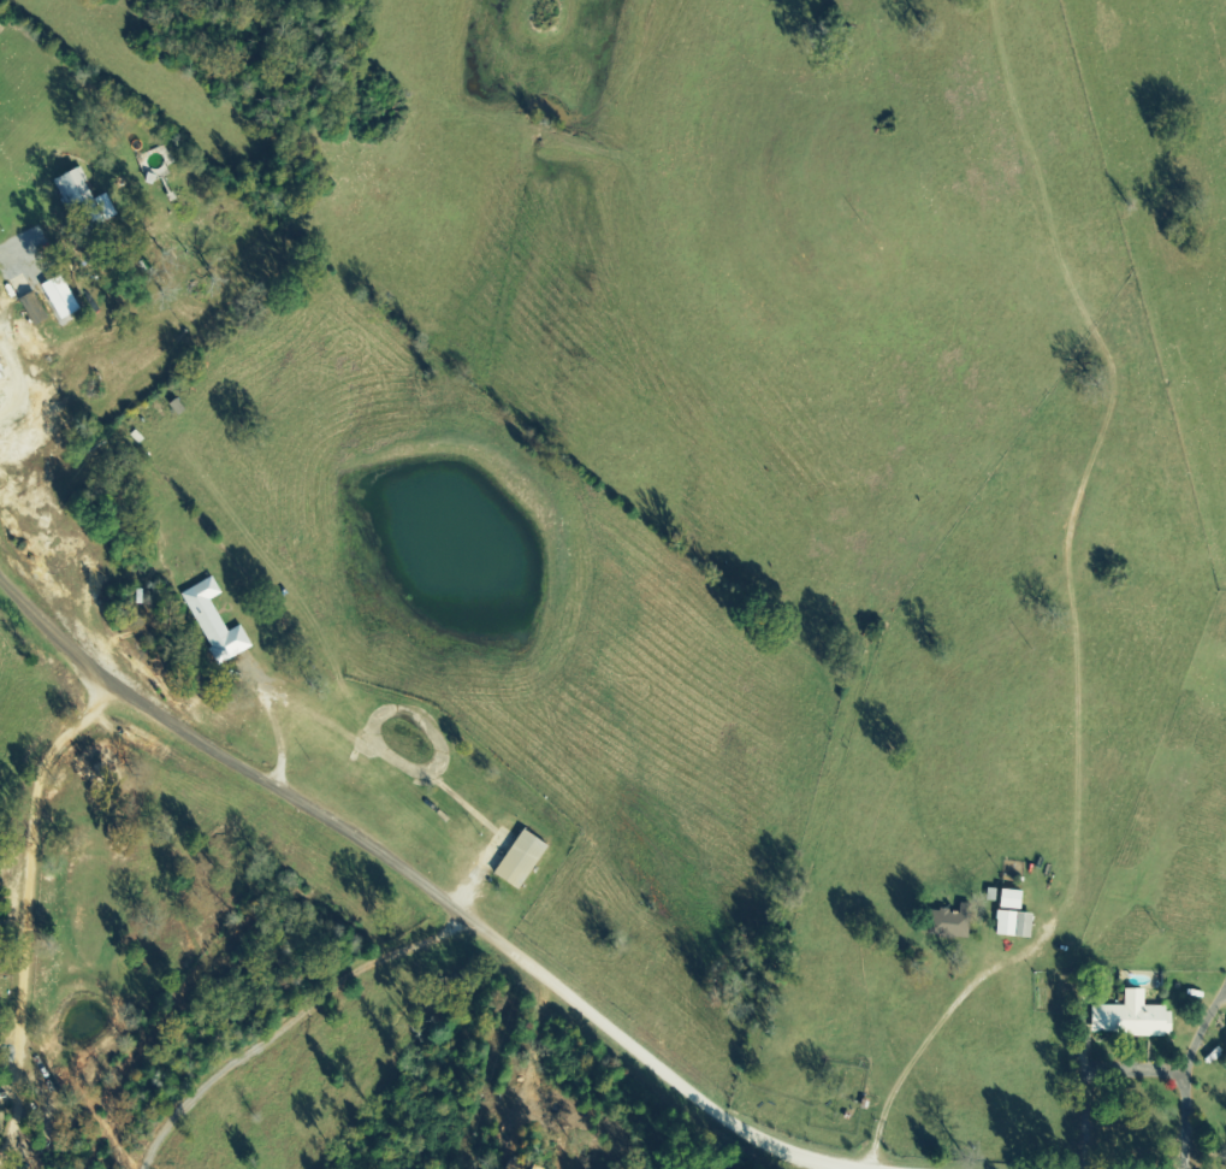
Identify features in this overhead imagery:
building: (88, 199)
building: (64, 297)
building: (36, 309)
building: (0, 384)
building: (215, 622)
building: (523, 858)
road: (509, 911)
building: (1017, 916)
building: (953, 922)
road: (96, 952)
building: (1136, 1017)

